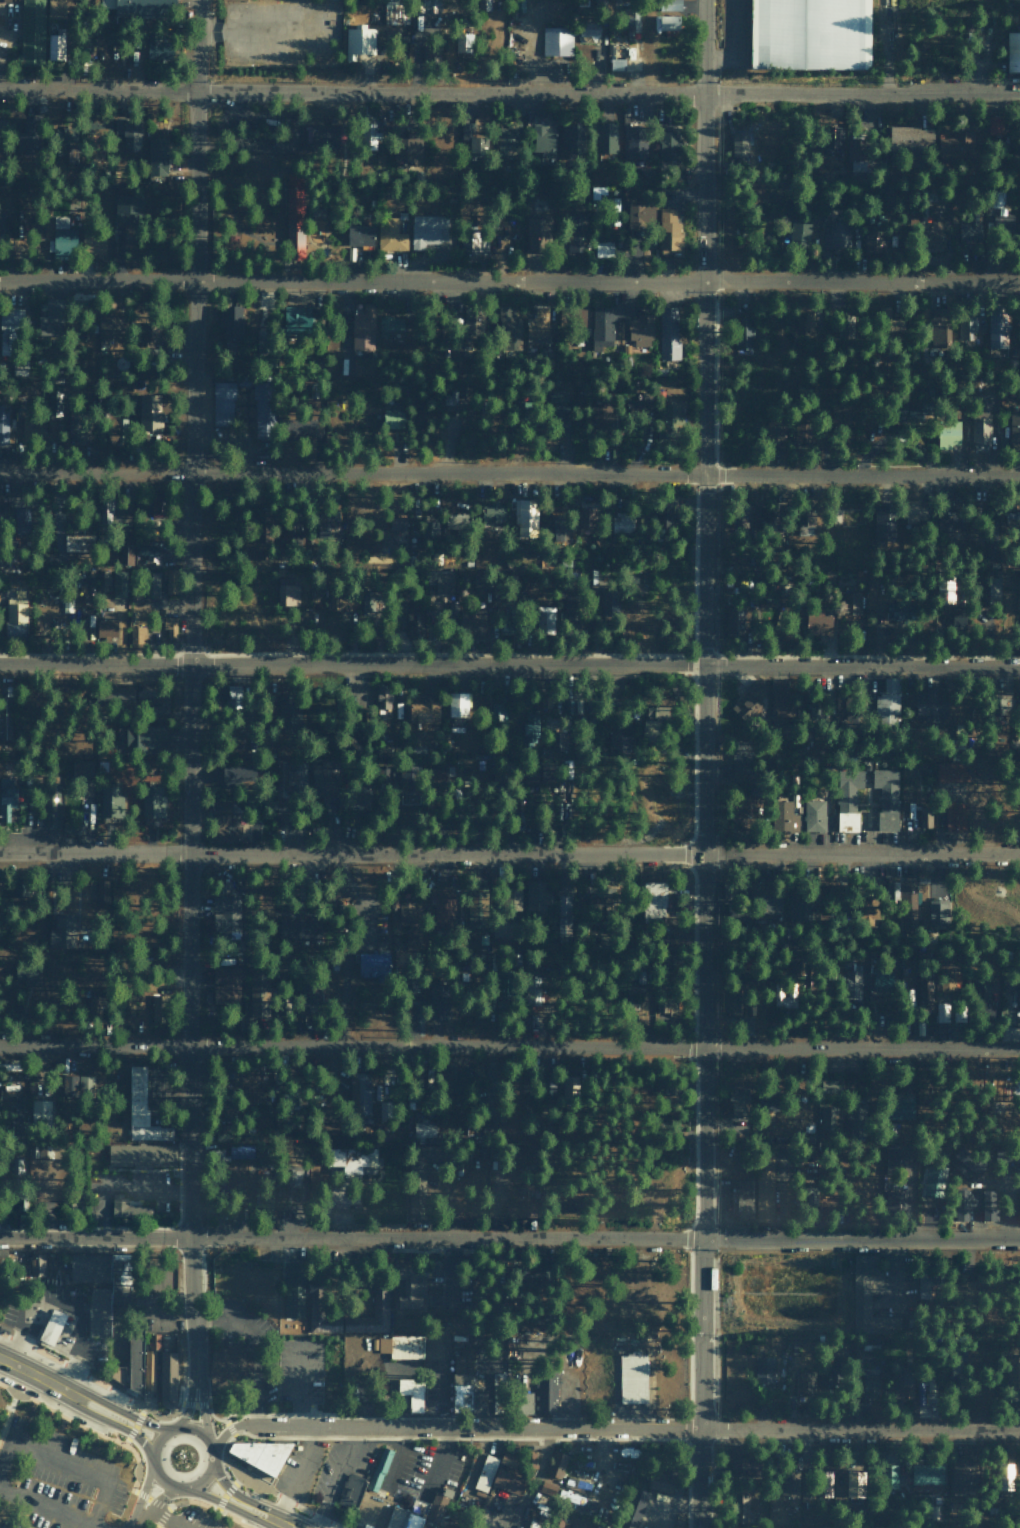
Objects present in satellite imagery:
building: (670, 5)
building: (427, 6)
building: (55, 9)
building: (137, 9)
building: (664, 22)
building: (588, 29)
building: (31, 33)
building: (809, 34)
building: (556, 41)
building: (358, 42)
building: (463, 42)
building: (157, 45)
building: (55, 47)
building: (1013, 52)
building: (616, 64)
road: (509, 93)
building: (97, 124)
building: (994, 125)
building: (128, 132)
building: (27, 136)
building: (368, 136)
building: (322, 137)
building: (833, 137)
building: (543, 138)
building: (572, 138)
building: (604, 138)
building: (911, 138)
building: (67, 140)
building: (471, 140)
building: (506, 140)
building: (635, 142)
building: (667, 143)
building: (955, 148)
building: (406, 150)
building: (156, 157)
building: (293, 208)
building: (127, 209)
building: (640, 215)
building: (1, 220)
building: (1001, 223)
building: (536, 225)
building: (934, 227)
building: (427, 231)
building: (668, 231)
building: (799, 232)
building: (574, 233)
building: (390, 235)
building: (836, 235)
building: (62, 236)
building: (359, 236)
building: (872, 242)
building: (473, 243)
building: (603, 249)
road: (510, 279)
building: (291, 315)
building: (579, 315)
building: (888, 322)
building: (230, 323)
building: (807, 324)
building: (43, 325)
building: (108, 325)
building: (389, 325)
building: (537, 327)
building: (601, 327)
building: (509, 328)
building: (937, 328)
building: (966, 328)
building: (362, 329)
building: (997, 329)
building: (639, 330)
building: (149, 333)
building: (667, 334)
building: (742, 334)
building: (53, 401)
building: (559, 401)
building: (222, 403)
building: (260, 405)
building: (671, 410)
building: (149, 411)
building: (840, 414)
building: (3, 423)
building: (32, 425)
building: (980, 427)
building: (1014, 428)
building: (803, 429)
building: (75, 430)
building: (773, 430)
building: (948, 433)
road: (509, 473)
building: (108, 501)
building: (492, 513)
building: (525, 516)
building: (585, 517)
building: (1012, 518)
building: (803, 520)
building: (883, 520)
building: (949, 520)
building: (454, 521)
building: (20, 522)
building: (396, 522)
building: (621, 522)
building: (326, 523)
building: (428, 526)
building: (560, 526)
building: (73, 542)
building: (990, 547)
building: (124, 550)
building: (150, 556)
building: (5, 558)
building: (481, 580)
building: (440, 581)
building: (150, 582)
building: (88, 583)
building: (119, 584)
building: (944, 587)
building: (993, 588)
building: (287, 593)
building: (339, 599)
building: (366, 600)
building: (609, 600)
building: (852, 601)
building: (899, 610)
building: (15, 616)
building: (543, 617)
building: (735, 620)
building: (816, 621)
building: (472, 623)
building: (505, 625)
building: (169, 626)
building: (105, 627)
building: (137, 633)
road: (509, 664)
road: (185, 686)
building: (120, 694)
building: (227, 695)
building: (753, 695)
building: (153, 697)
building: (887, 698)
building: (383, 700)
building: (781, 701)
building: (930, 702)
building: (458, 703)
building: (994, 705)
building: (288, 709)
building: (498, 710)
building: (423, 711)
building: (4, 713)
building: (528, 733)
building: (142, 737)
building: (556, 740)
building: (617, 740)
building: (740, 757)
road: (699, 763)
building: (529, 772)
building: (949, 772)
building: (235, 773)
building: (295, 773)
building: (547, 775)
building: (321, 778)
building: (407, 785)
building: (83, 790)
building: (885, 795)
building: (6, 797)
building: (847, 798)
building: (358, 799)
building: (109, 801)
building: (152, 801)
building: (50, 805)
building: (224, 805)
building: (747, 807)
building: (814, 815)
building: (924, 815)
building: (954, 815)
building: (784, 816)
building: (224, 827)
road: (510, 854)
building: (101, 893)
building: (536, 895)
building: (903, 896)
building: (511, 897)
building: (652, 899)
building: (799, 903)
building: (757, 904)
building: (563, 905)
building: (476, 908)
building: (443, 909)
building: (865, 910)
building: (936, 911)
building: (225, 913)
building: (410, 916)
building: (297, 928)
building: (62, 931)
building: (372, 964)
building: (26, 973)
building: (852, 981)
building: (880, 981)
building: (227, 982)
building: (531, 990)
building: (981, 991)
building: (925, 992)
building: (909, 996)
building: (1018, 997)
building: (438, 1001)
building: (127, 1002)
building: (665, 1007)
building: (942, 1012)
road: (509, 1047)
building: (462, 1078)
building: (661, 1084)
building: (827, 1087)
building: (359, 1095)
building: (766, 1102)
building: (141, 1109)
building: (739, 1110)
building: (41, 1111)
building: (828, 1116)
building: (424, 1129)
building: (855, 1129)
building: (222, 1132)
building: (42, 1151)
building: (240, 1151)
building: (218, 1154)
building: (141, 1155)
building: (896, 1157)
building: (1006, 1158)
building: (352, 1159)
building: (963, 1161)
building: (417, 1162)
building: (289, 1177)
building: (932, 1182)
building: (764, 1186)
building: (346, 1193)
building: (809, 1195)
building: (743, 1200)
building: (896, 1200)
building: (415, 1204)
building: (973, 1204)
building: (1019, 1207)
building: (127, 1208)
building: (516, 1209)
road: (510, 1236)
building: (37, 1264)
building: (88, 1267)
building: (1019, 1279)
building: (926, 1286)
building: (409, 1287)
building: (293, 1290)
building: (109, 1296)
building: (868, 1301)
building: (380, 1305)
road: (204, 1318)
building: (51, 1327)
building: (153, 1341)
building: (401, 1346)
building: (134, 1359)
building: (228, 1362)
building: (763, 1369)
building: (1012, 1369)
road: (35, 1375)
building: (167, 1377)
road: (87, 1378)
building: (632, 1378)
building: (462, 1380)
building: (804, 1382)
building: (900, 1385)
building: (868, 1387)
road: (181, 1393)
building: (411, 1393)
building: (546, 1394)
road: (188, 1401)
building: (478, 1402)
building: (523, 1402)
road: (194, 1403)
road: (201, 1405)
road: (119, 1410)
road: (283, 1413)
road: (157, 1415)
road: (212, 1415)
road: (80, 1420)
road: (112, 1423)
road: (134, 1424)
road: (229, 1426)
road: (449, 1426)
road: (196, 1429)
road: (859, 1430)
road: (386, 1437)
road: (156, 1439)
road: (659, 1441)
road: (221, 1453)
building: (259, 1453)
road: (395, 1457)
building: (506, 1458)
road: (439, 1459)
building: (531, 1460)
building: (557, 1463)
road: (137, 1464)
building: (739, 1465)
road: (70, 1466)
building: (379, 1469)
building: (484, 1472)
road: (205, 1473)
road: (298, 1474)
building: (926, 1474)
road: (334, 1476)
building: (888, 1476)
road: (161, 1477)
building: (1004, 1477)
park: (82, 1479)
parking lot: (60, 1480)
building: (507, 1480)
building: (660, 1481)
building: (577, 1483)
building: (788, 1483)
building: (823, 1483)
building: (855, 1484)
building: (349, 1488)
building: (547, 1489)
road: (227, 1490)
road: (141, 1494)
road: (237, 1494)
road: (141, 1496)
road: (147, 1499)
road: (289, 1500)
building: (577, 1501)
road: (204, 1502)
road: (157, 1503)
road: (227, 1504)
road: (155, 1505)
road: (167, 1506)
road: (44, 1507)
building: (632, 1508)
building: (739, 1508)
building: (405, 1514)
road: (161, 1516)
building: (431, 1516)
road: (166, 1519)
parking lot: (194, 1520)
road: (283, 1523)
building: (534, 1523)
road: (247, 1524)
road: (94, 1526)
road: (156, 1526)
building: (449, 1526)
building: (887, 1527)

